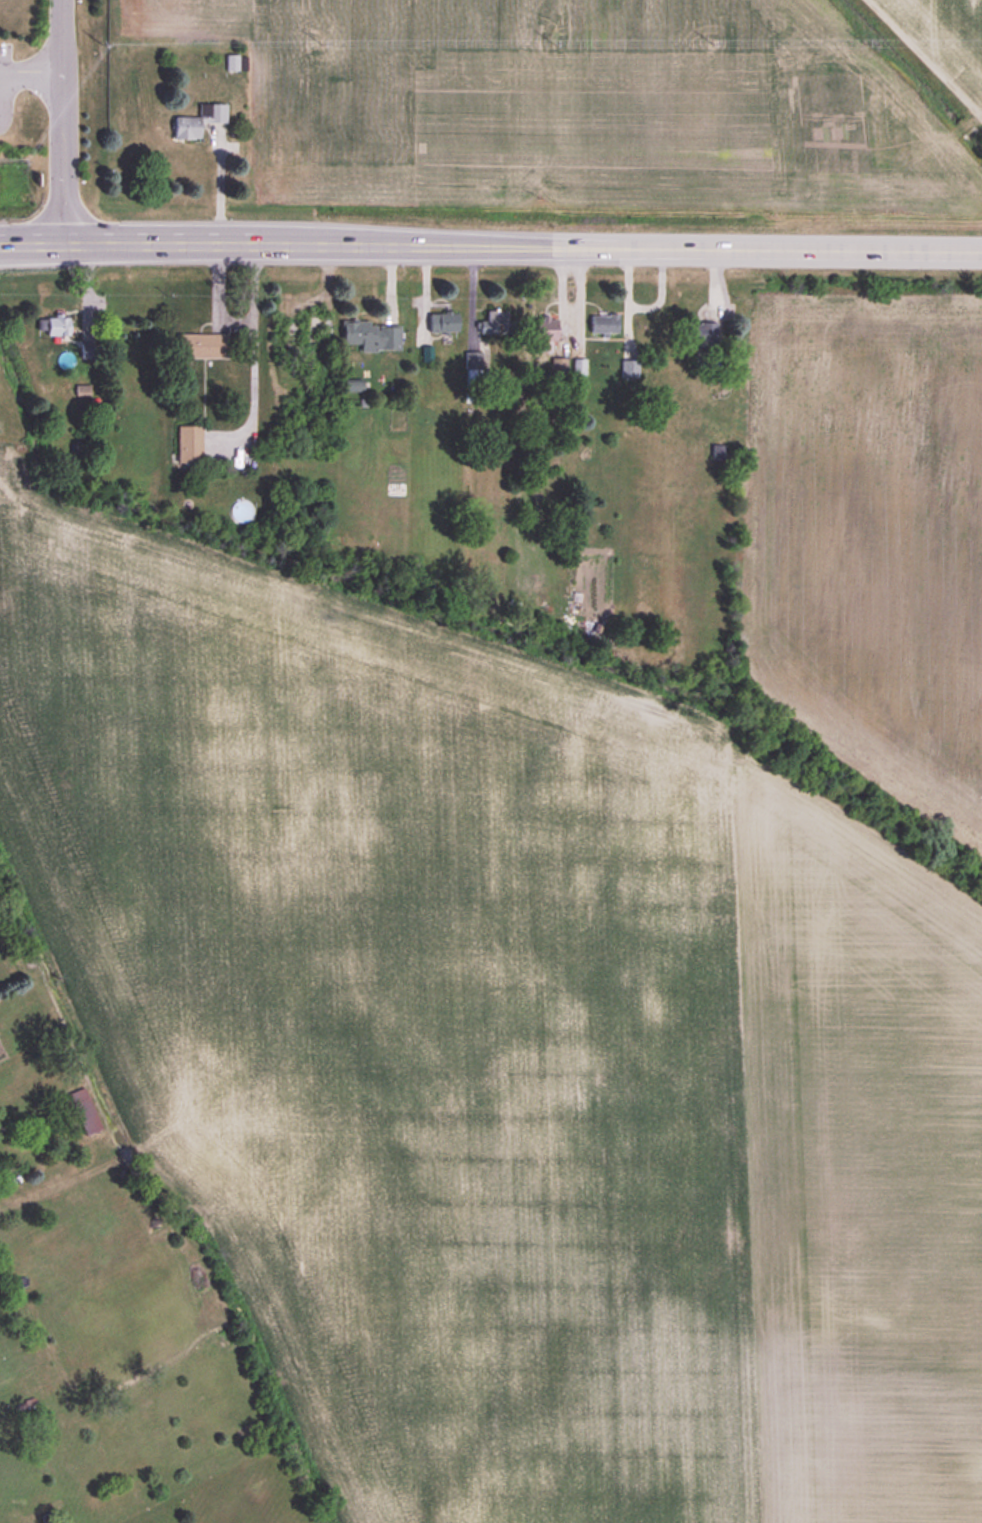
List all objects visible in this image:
building: (233, 62)
road: (30, 76)
crop: (607, 102)
building: (199, 120)
road: (59, 121)
road: (213, 182)
road: (304, 240)
road: (28, 242)
road: (767, 248)
road: (208, 295)
building: (495, 321)
building: (604, 322)
building: (444, 323)
building: (55, 324)
building: (299, 332)
building: (544, 333)
building: (701, 333)
building: (371, 335)
building: (203, 345)
road: (248, 353)
building: (427, 353)
building: (559, 365)
building: (579, 366)
building: (630, 367)
building: (475, 371)
building: (353, 385)
building: (189, 443)
crop: (561, 977)
building: (85, 1110)
building: (26, 1403)

